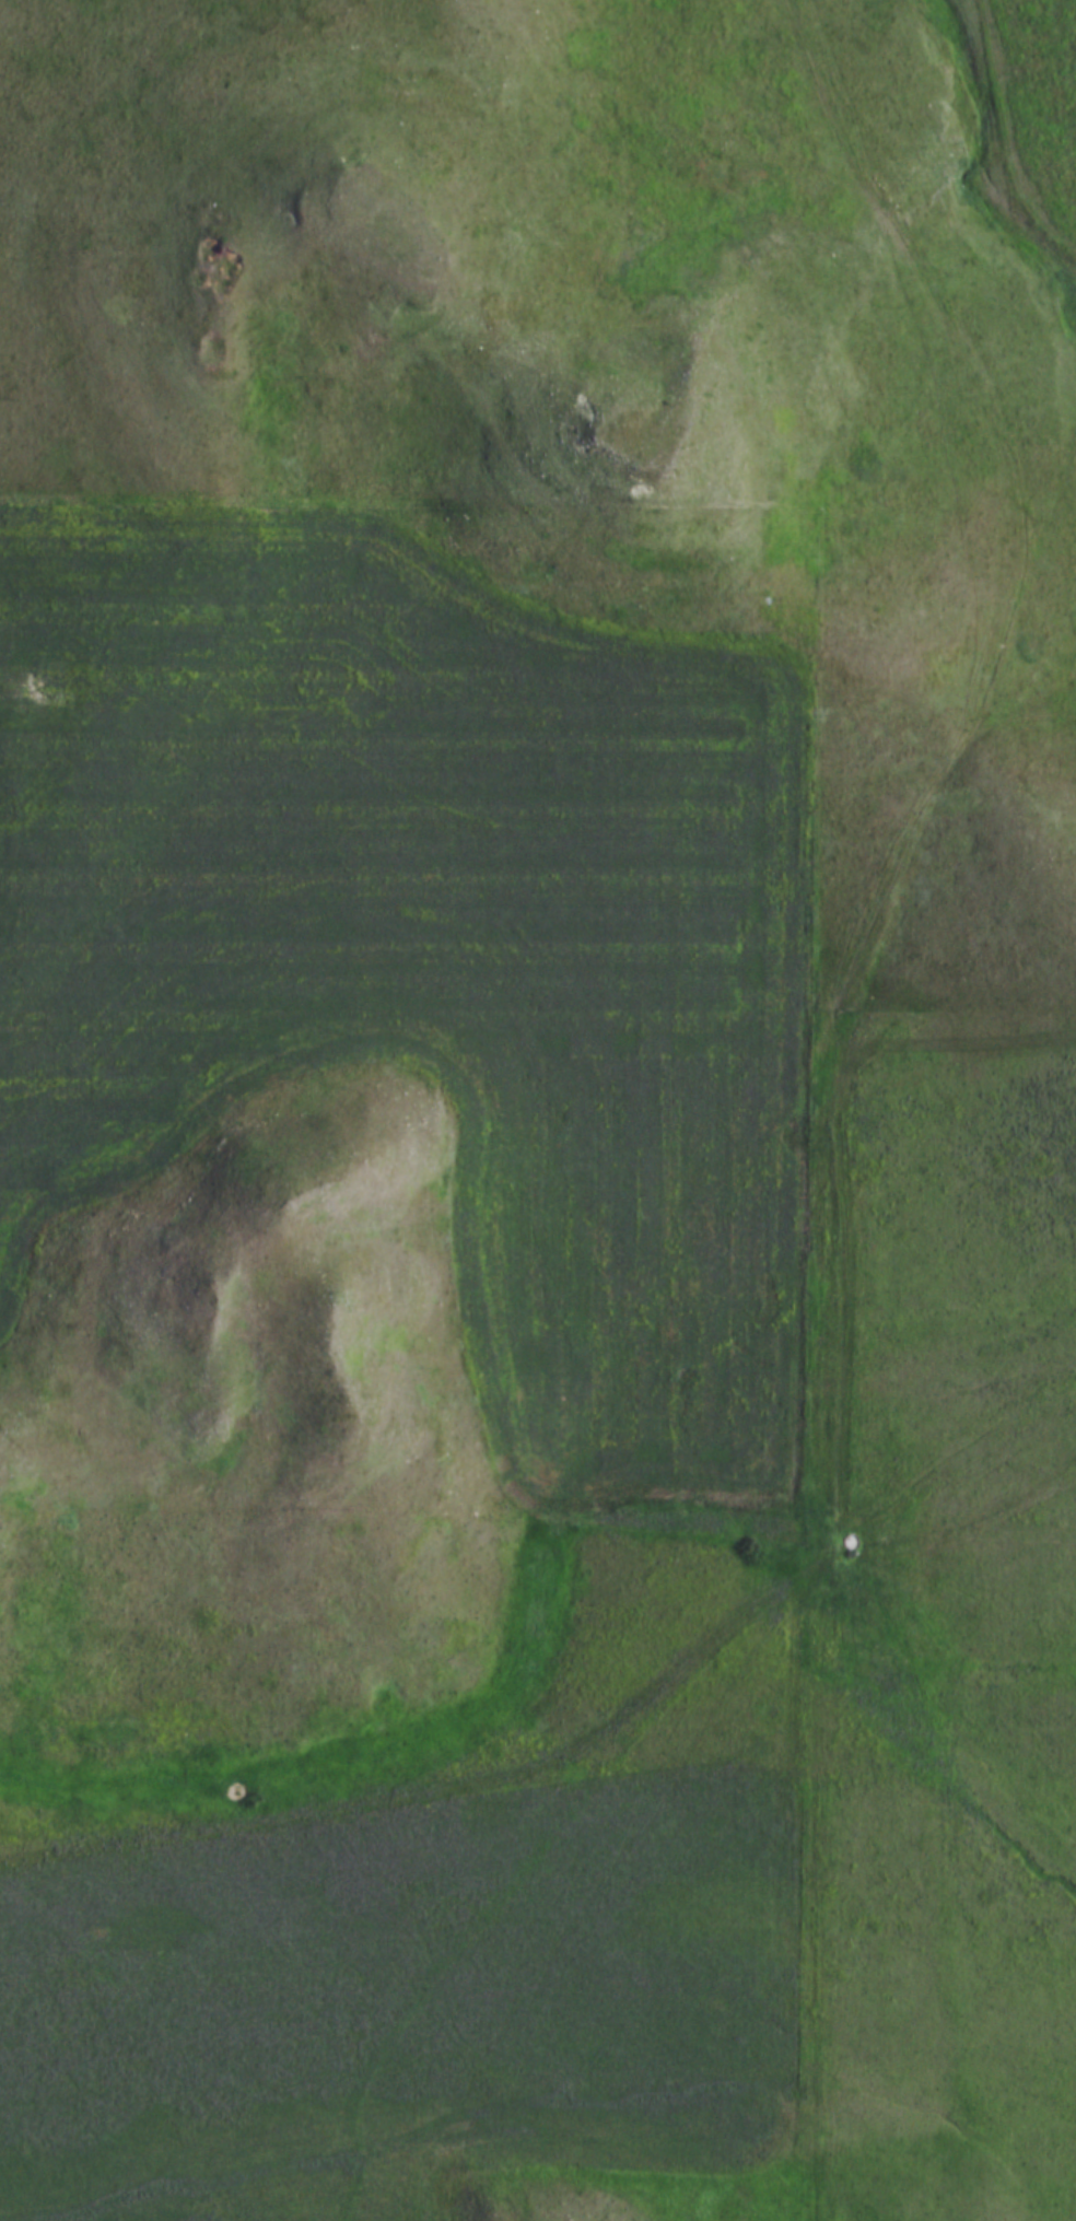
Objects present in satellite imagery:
road: (827, 1174)

